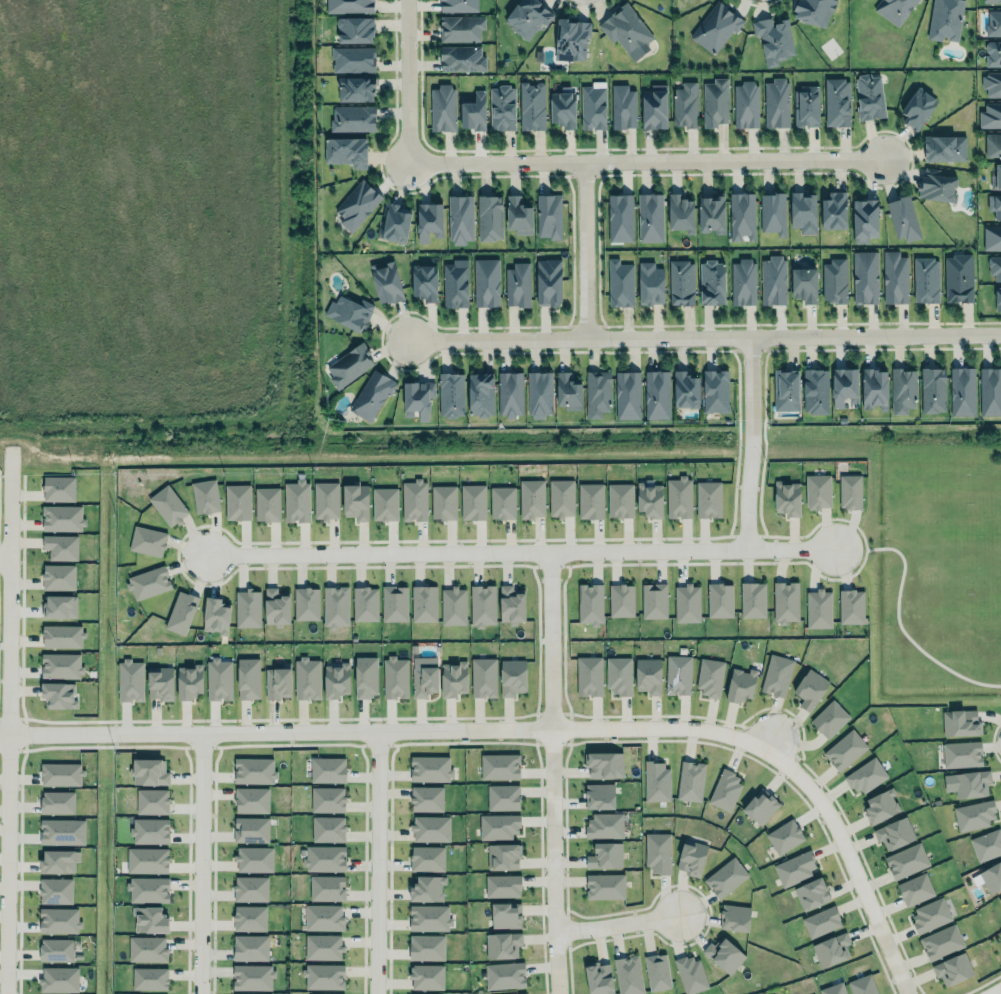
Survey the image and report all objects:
building: (991, 0)
building: (349, 6)
building: (457, 6)
building: (893, 9)
building: (813, 11)
building: (527, 16)
building: (945, 19)
building: (993, 23)
building: (715, 26)
building: (461, 27)
building: (355, 29)
building: (627, 30)
building: (571, 38)
building: (773, 39)
building: (993, 53)
building: (353, 58)
building: (461, 58)
road: (9, 75)
road: (406, 81)
building: (992, 82)
building: (356, 88)
building: (868, 96)
building: (837, 101)
building: (715, 102)
building: (775, 102)
building: (686, 104)
building: (745, 104)
building: (531, 105)
building: (805, 106)
building: (593, 107)
building: (623, 107)
building: (654, 107)
building: (442, 108)
building: (502, 108)
building: (562, 108)
building: (918, 108)
building: (474, 112)
building: (990, 115)
building: (353, 118)
building: (993, 144)
building: (944, 148)
building: (346, 151)
road: (645, 159)
building: (997, 178)
building: (937, 186)
building: (995, 204)
building: (357, 205)
building: (834, 210)
building: (771, 212)
building: (803, 212)
building: (681, 213)
building: (713, 213)
building: (518, 215)
building: (647, 215)
building: (741, 215)
building: (548, 216)
building: (618, 216)
building: (489, 217)
building: (457, 218)
building: (902, 218)
building: (864, 219)
building: (428, 221)
building: (395, 222)
building: (991, 238)
road: (582, 248)
road: (194, 260)
building: (995, 266)
building: (895, 277)
building: (865, 278)
building: (958, 278)
building: (926, 279)
building: (773, 280)
building: (835, 280)
building: (550, 281)
building: (743, 281)
building: (386, 282)
building: (424, 282)
building: (484, 282)
building: (679, 282)
building: (620, 283)
building: (712, 283)
building: (455, 284)
building: (650, 284)
building: (517, 285)
building: (804, 285)
building: (997, 298)
building: (348, 313)
road: (704, 334)
building: (349, 365)
building: (844, 387)
building: (875, 388)
building: (686, 389)
building: (786, 389)
building: (903, 390)
building: (933, 390)
building: (988, 390)
building: (715, 391)
building: (815, 391)
building: (962, 391)
building: (568, 393)
building: (597, 393)
building: (481, 394)
building: (510, 394)
building: (539, 394)
building: (656, 394)
building: (371, 395)
building: (451, 395)
building: (628, 395)
building: (418, 398)
road: (753, 441)
building: (58, 488)
building: (848, 490)
building: (817, 491)
building: (202, 496)
building: (678, 497)
building: (529, 498)
building: (559, 498)
building: (706, 498)
building: (786, 498)
building: (649, 499)
building: (324, 500)
building: (354, 500)
building: (414, 500)
building: (589, 500)
building: (618, 500)
building: (296, 501)
building: (441, 501)
building: (237, 502)
building: (472, 502)
building: (384, 503)
building: (502, 503)
building: (166, 504)
building: (267, 504)
building: (62, 518)
building: (148, 541)
building: (60, 547)
road: (512, 550)
road: (4, 559)
building: (58, 577)
building: (147, 582)
building: (621, 598)
building: (720, 598)
building: (752, 598)
building: (654, 600)
building: (785, 600)
building: (422, 602)
building: (363, 603)
building: (394, 603)
building: (481, 603)
building: (509, 603)
building: (589, 603)
building: (687, 603)
building: (304, 604)
building: (59, 606)
building: (276, 606)
building: (335, 606)
building: (452, 606)
building: (849, 606)
building: (247, 608)
building: (818, 609)
building: (179, 611)
building: (214, 614)
building: (59, 635)
building: (58, 665)
road: (8, 666)
building: (588, 674)
building: (646, 674)
building: (676, 674)
building: (775, 674)
building: (512, 675)
building: (364, 676)
building: (424, 676)
building: (483, 676)
building: (618, 676)
building: (305, 677)
building: (395, 677)
building: (708, 677)
building: (216, 678)
building: (248, 678)
building: (453, 678)
building: (335, 679)
building: (130, 680)
building: (188, 681)
building: (159, 683)
building: (277, 683)
building: (739, 683)
building: (810, 687)
building: (59, 694)
building: (829, 717)
building: (959, 722)
road: (528, 730)
road: (769, 741)
building: (845, 748)
building: (961, 754)
building: (604, 762)
building: (498, 766)
building: (430, 768)
building: (254, 770)
building: (326, 770)
building: (148, 771)
road: (552, 772)
building: (59, 773)
building: (865, 776)
building: (690, 779)
building: (653, 781)
building: (971, 783)
building: (723, 789)
building: (599, 794)
building: (501, 797)
building: (426, 798)
building: (327, 799)
building: (251, 800)
building: (152, 801)
building: (57, 802)
building: (881, 804)
building: (759, 806)
building: (974, 815)
building: (498, 824)
building: (604, 824)
building: (428, 827)
building: (251, 829)
building: (328, 829)
building: (62, 831)
building: (148, 831)
building: (894, 831)
building: (784, 836)
building: (987, 843)
building: (655, 852)
building: (603, 855)
building: (503, 856)
building: (691, 857)
building: (324, 858)
building: (426, 858)
building: (254, 859)
building: (906, 859)
building: (144, 860)
building: (59, 861)
road: (202, 863)
road: (377, 863)
building: (794, 866)
building: (726, 875)
building: (989, 877)
building: (501, 885)
building: (603, 885)
building: (326, 887)
building: (915, 887)
building: (146, 888)
building: (250, 888)
building: (427, 888)
building: (55, 890)
building: (811, 893)
building: (999, 898)
building: (930, 913)
building: (505, 915)
building: (247, 917)
building: (321, 917)
building: (427, 917)
building: (732, 917)
building: (148, 918)
building: (59, 920)
building: (821, 920)
road: (616, 924)
building: (940, 942)
building: (502, 943)
building: (321, 946)
building: (248, 947)
building: (426, 947)
building: (147, 949)
building: (831, 949)
building: (56, 950)
building: (724, 954)
building: (952, 968)
building: (655, 970)
building: (690, 973)
building: (626, 974)
building: (505, 975)
building: (323, 976)
building: (252, 977)
building: (426, 977)
building: (597, 978)
building: (59, 979)
building: (148, 979)
building: (862, 984)
building: (833, 988)
road: (996, 991)
building: (317, 993)
building: (421, 993)
building: (512, 993)

